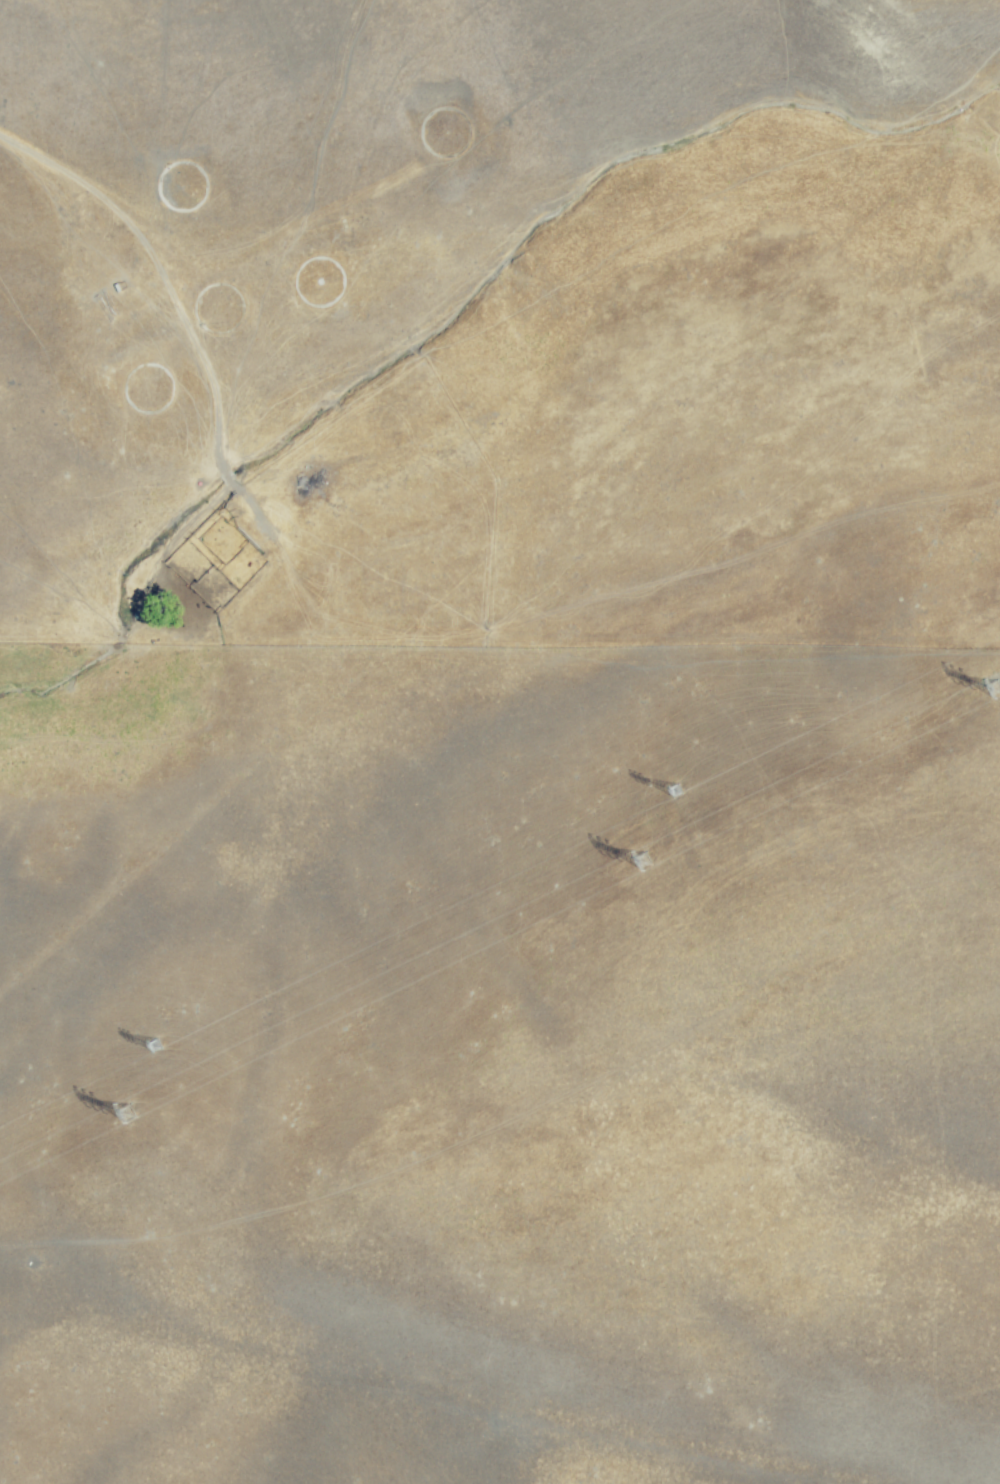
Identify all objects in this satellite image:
road: (117, 696)
power tower: (680, 796)
power tower: (692, 855)
power tower: (163, 1050)
power tower: (175, 1113)

